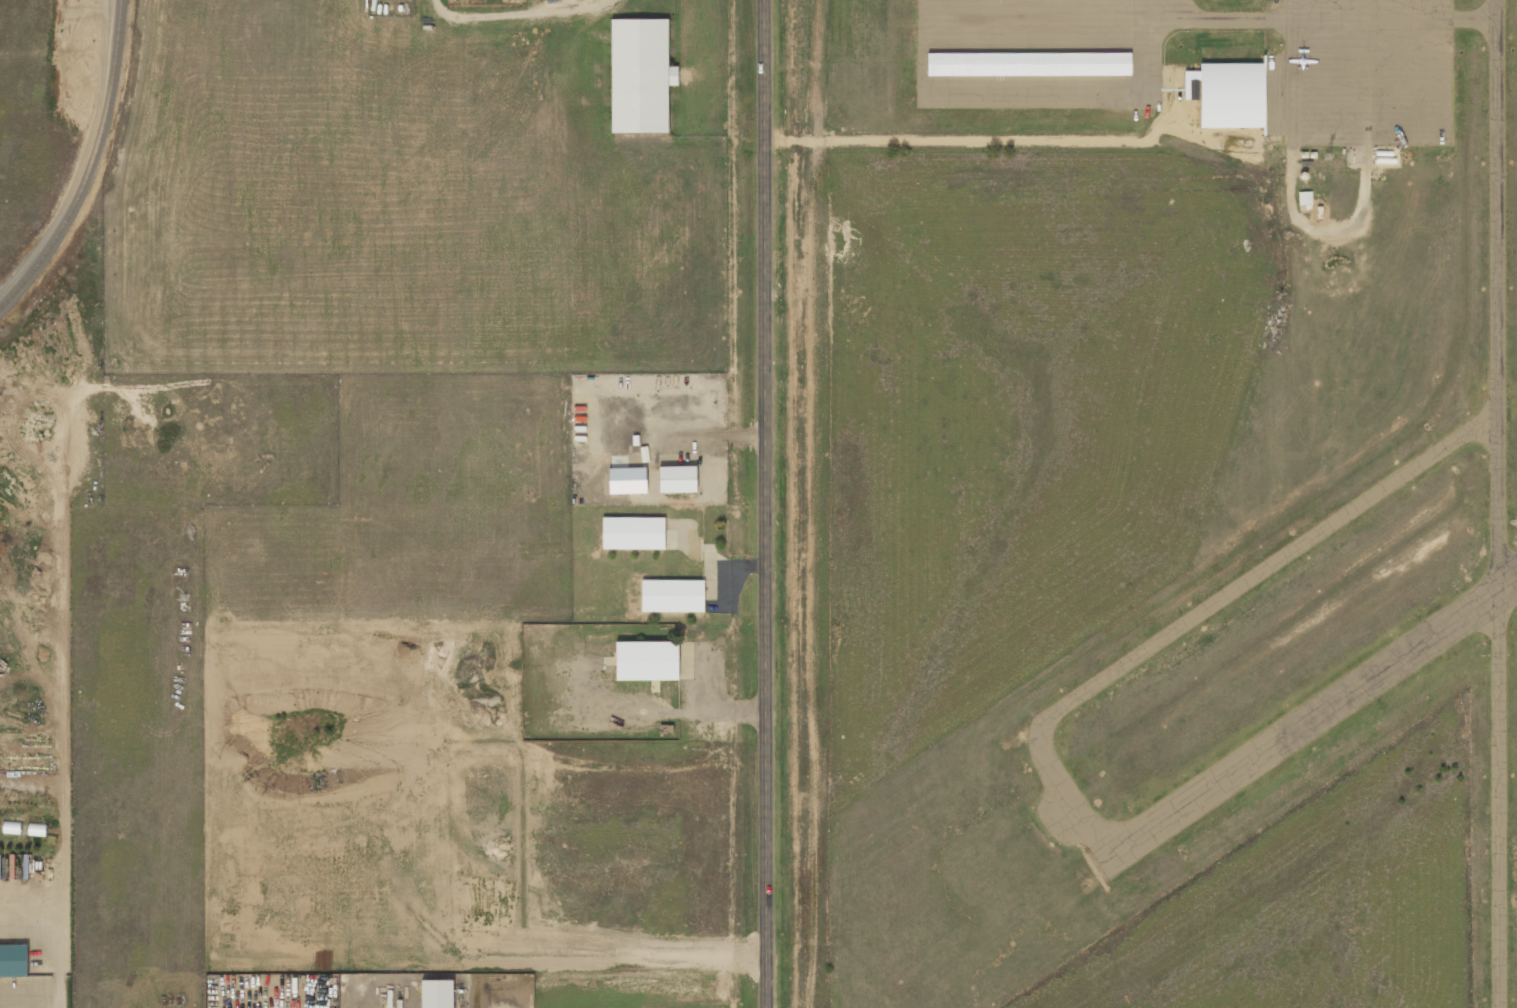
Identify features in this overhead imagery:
airport apron: (1040, 54)
building: (1031, 66)
airport apron: (1365, 72)
building: (640, 74)
building: (1236, 97)
railway: (94, 167)
building: (1304, 198)
building: (676, 479)
road: (768, 503)
airport: (1156, 503)
airport taxiway: (1496, 504)
building: (632, 532)
building: (672, 595)
airport taxiway: (1204, 610)
building: (646, 660)
airport runway: (1308, 721)
building: (36, 829)
building: (14, 960)
building: (437, 993)

